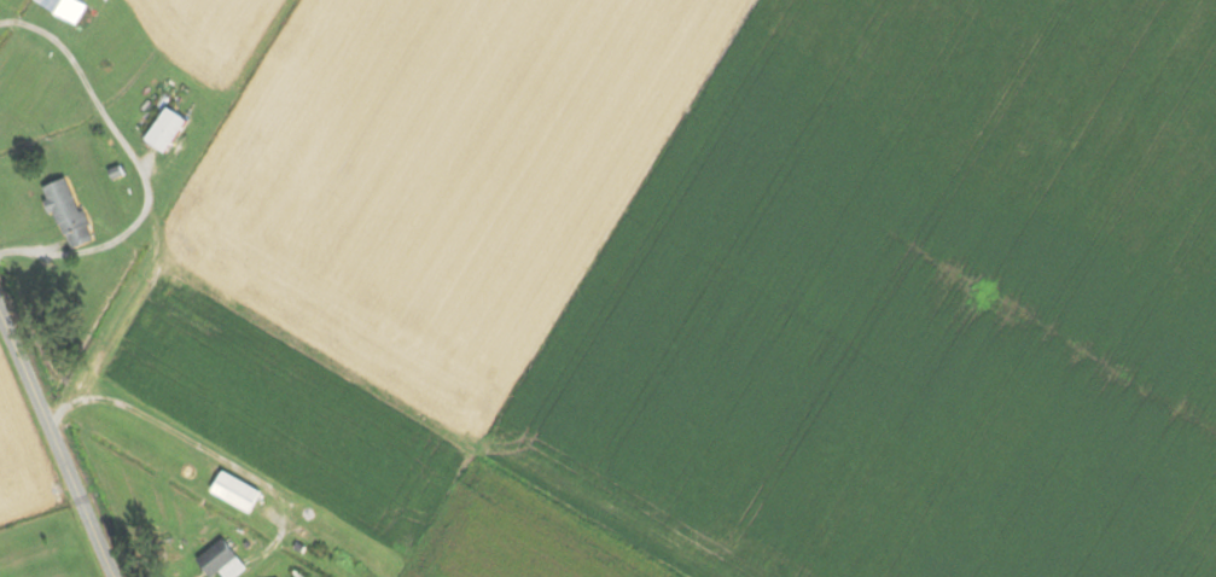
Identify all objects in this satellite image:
building: (66, 8)
building: (168, 130)
road: (140, 167)
building: (70, 214)
road: (58, 450)
building: (238, 490)
building: (223, 560)

